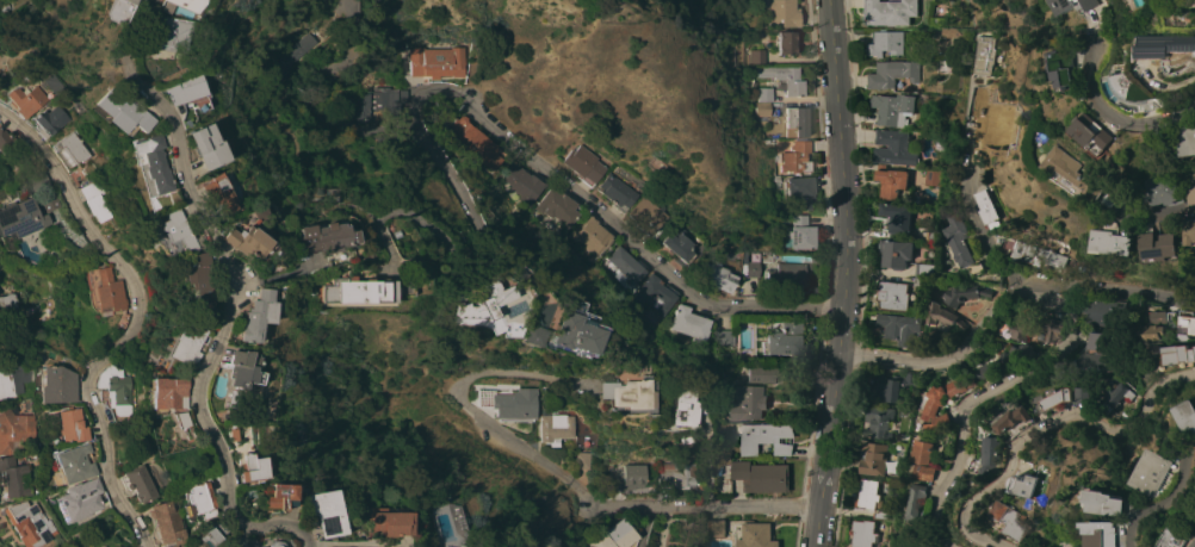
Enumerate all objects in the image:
building: (177, 5)
building: (1077, 5)
building: (110, 10)
building: (891, 12)
building: (780, 13)
building: (936, 32)
building: (949, 32)
building: (159, 35)
building: (786, 42)
building: (886, 43)
building: (1169, 45)
road: (397, 48)
building: (297, 49)
building: (759, 56)
building: (984, 56)
building: (438, 61)
building: (1067, 67)
building: (278, 68)
building: (893, 73)
building: (785, 79)
building: (178, 89)
building: (766, 94)
building: (23, 100)
building: (378, 104)
building: (893, 108)
building: (763, 110)
building: (116, 111)
road: (1117, 111)
building: (48, 120)
building: (797, 122)
building: (974, 130)
building: (1101, 136)
building: (1190, 137)
building: (5, 143)
building: (475, 143)
building: (942, 144)
building: (202, 145)
building: (68, 148)
building: (893, 148)
road: (435, 155)
building: (797, 158)
building: (147, 164)
building: (583, 164)
building: (1070, 169)
building: (76, 174)
building: (933, 178)
building: (891, 182)
building: (522, 185)
building: (1166, 187)
building: (800, 189)
building: (617, 192)
building: (213, 193)
building: (1193, 193)
building: (917, 199)
building: (93, 200)
building: (48, 201)
building: (557, 207)
building: (987, 207)
road: (1164, 211)
road: (408, 216)
building: (646, 216)
building: (21, 217)
building: (897, 217)
building: (1190, 230)
building: (172, 232)
building: (799, 232)
building: (931, 234)
building: (590, 235)
building: (240, 241)
building: (318, 241)
road: (634, 242)
building: (1114, 242)
building: (676, 243)
building: (960, 245)
building: (1160, 247)
building: (1039, 251)
building: (896, 253)
building: (625, 263)
building: (751, 268)
building: (921, 269)
building: (791, 274)
road: (842, 274)
building: (718, 276)
building: (193, 279)
road: (1042, 282)
building: (920, 285)
building: (106, 288)
building: (349, 292)
building: (965, 293)
road: (222, 294)
building: (655, 294)
building: (893, 294)
building: (8, 300)
building: (481, 305)
building: (1102, 312)
building: (941, 315)
building: (250, 316)
building: (1157, 316)
building: (1170, 316)
road: (131, 322)
building: (122, 323)
building: (469, 323)
building: (689, 324)
road: (1071, 324)
building: (1185, 324)
building: (898, 328)
building: (1150, 331)
building: (1020, 332)
building: (530, 334)
building: (570, 335)
building: (722, 337)
building: (1, 338)
building: (784, 338)
building: (1104, 341)
building: (182, 342)
building: (1178, 354)
building: (1096, 359)
building: (236, 367)
building: (762, 374)
building: (57, 384)
building: (5, 385)
building: (893, 386)
building: (113, 389)
building: (165, 391)
building: (1083, 393)
building: (626, 394)
building: (1116, 396)
building: (1051, 400)
building: (940, 402)
building: (747, 403)
road: (466, 404)
building: (509, 404)
building: (683, 406)
building: (1187, 415)
building: (1013, 418)
building: (879, 421)
road: (1047, 422)
building: (69, 423)
building: (555, 428)
building: (17, 433)
building: (682, 437)
building: (764, 437)
building: (985, 456)
building: (872, 458)
building: (582, 460)
building: (923, 460)
building: (74, 462)
building: (250, 468)
building: (1152, 471)
building: (676, 475)
building: (761, 475)
building: (14, 477)
building: (629, 477)
building: (137, 483)
building: (1024, 484)
building: (866, 493)
building: (280, 497)
building: (79, 499)
building: (198, 501)
road: (1168, 502)
building: (1104, 503)
road: (691, 505)
building: (917, 505)
building: (324, 512)
building: (879, 515)
building: (1, 518)
building: (1010, 520)
building: (30, 523)
building: (166, 523)
building: (388, 523)
road: (643, 526)
building: (218, 528)
building: (717, 528)
building: (862, 533)
building: (1101, 533)
building: (614, 535)
building: (756, 535)
building: (1182, 536)
building: (208, 537)
building: (275, 543)
road: (355, 543)
building: (462, 545)
building: (445, 546)

